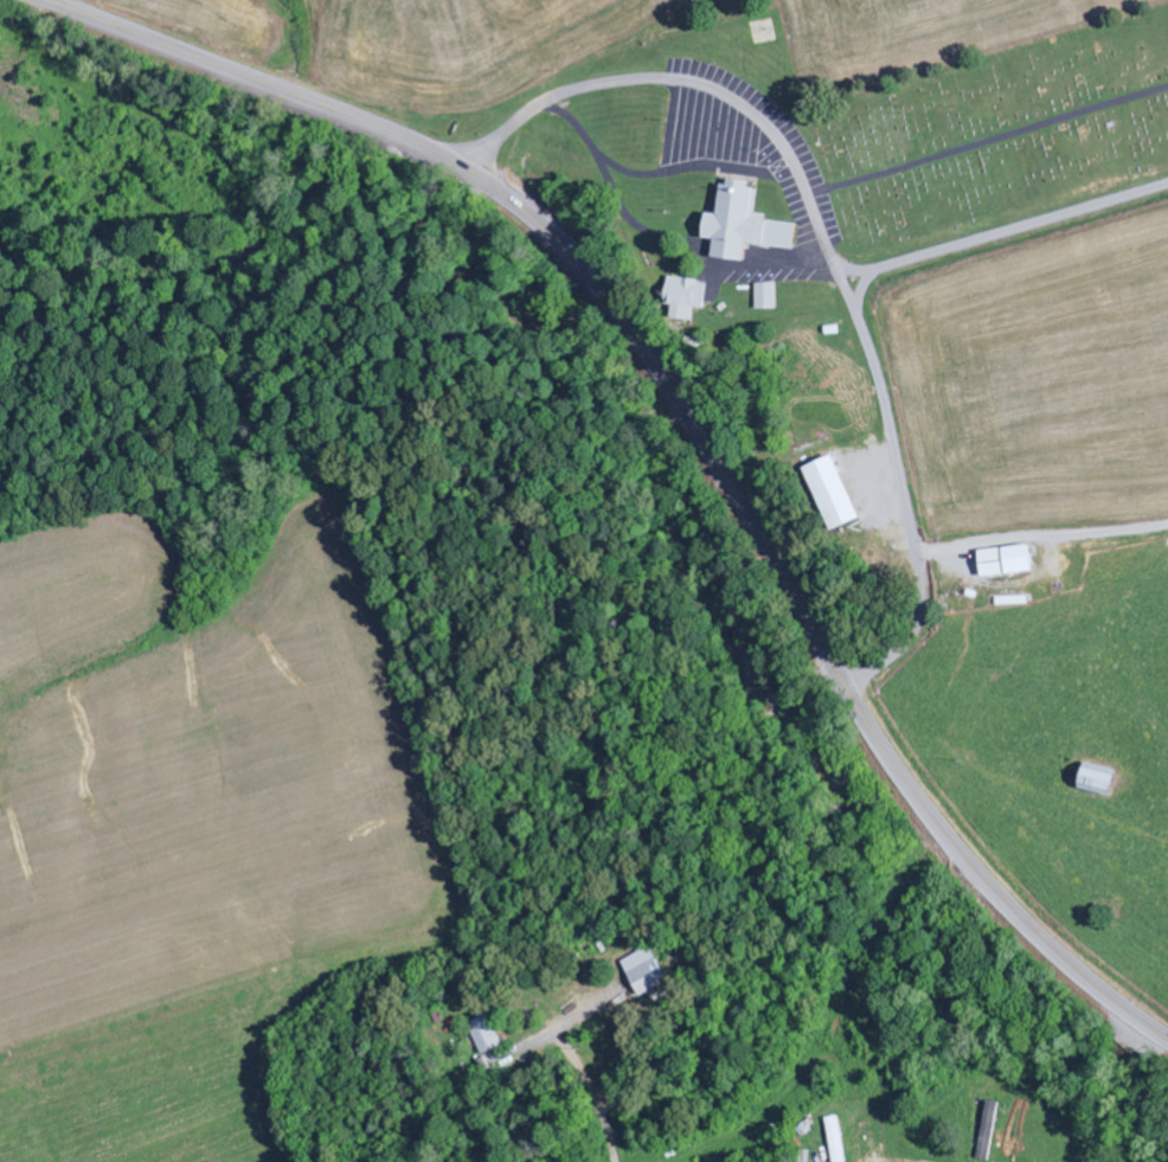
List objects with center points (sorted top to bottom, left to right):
park: (996, 134)
building: (744, 225)
road: (1003, 233)
road: (829, 249)
road: (861, 289)
building: (687, 297)
building: (768, 297)
road: (694, 416)
building: (833, 495)
road: (1042, 535)
building: (1006, 563)
building: (1097, 781)
building: (647, 971)
building: (487, 1034)
building: (838, 1138)

